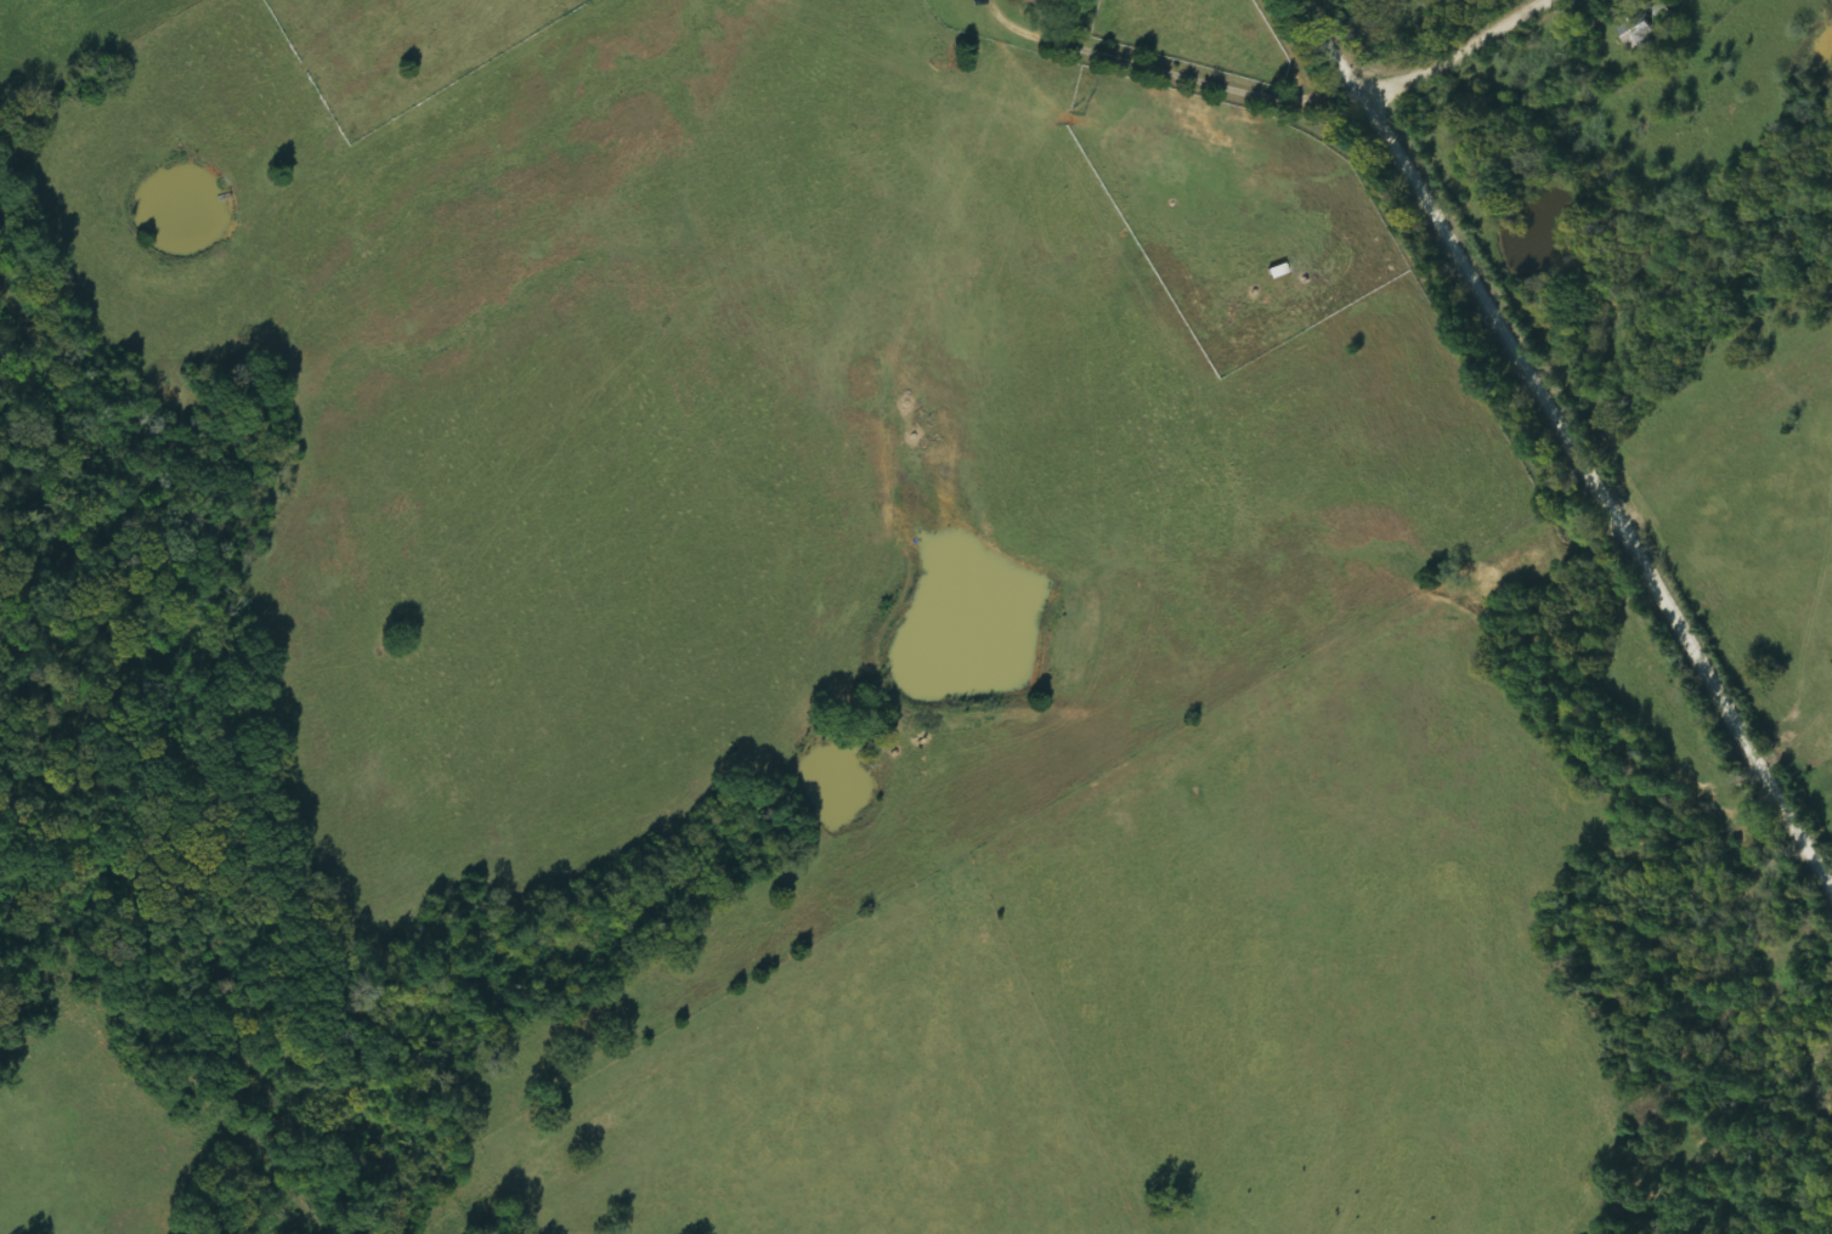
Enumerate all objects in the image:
building: (1036, 0)
building: (1636, 32)
road: (1454, 50)
road: (1567, 445)

